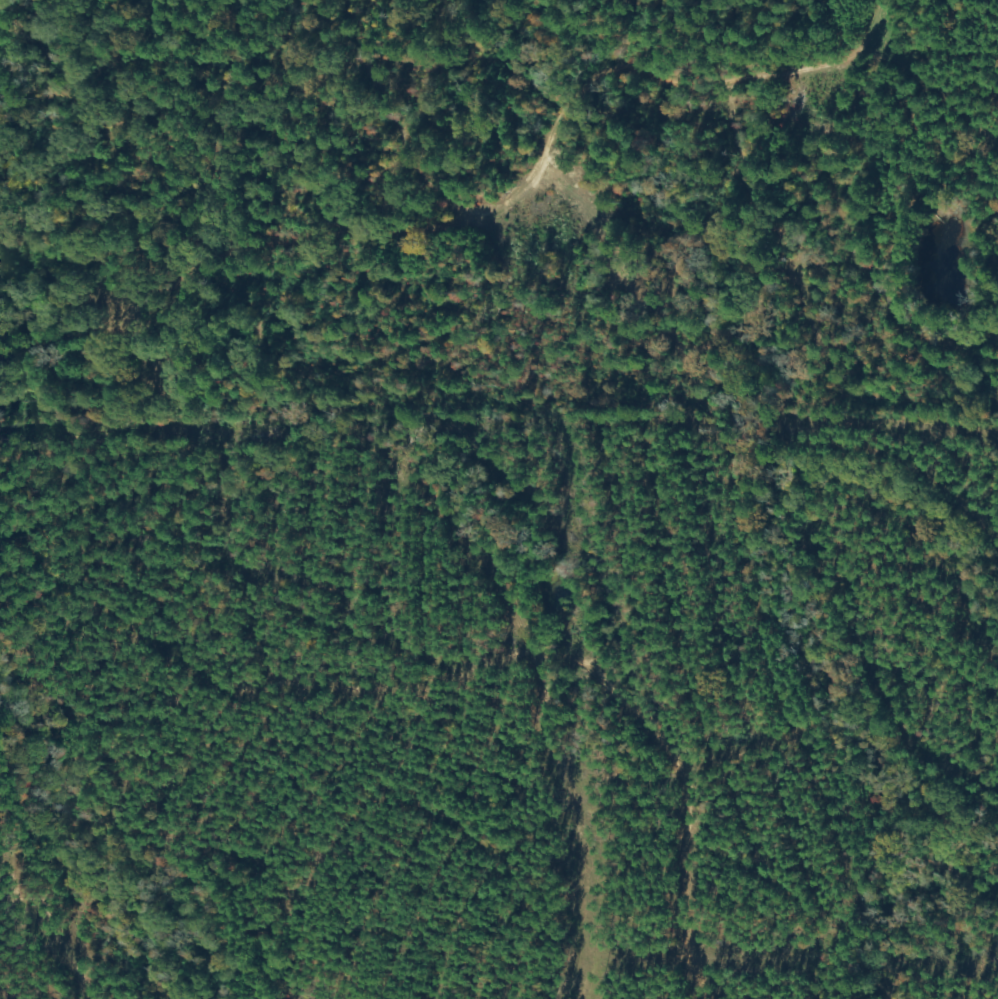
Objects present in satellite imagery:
road: (963, 757)

